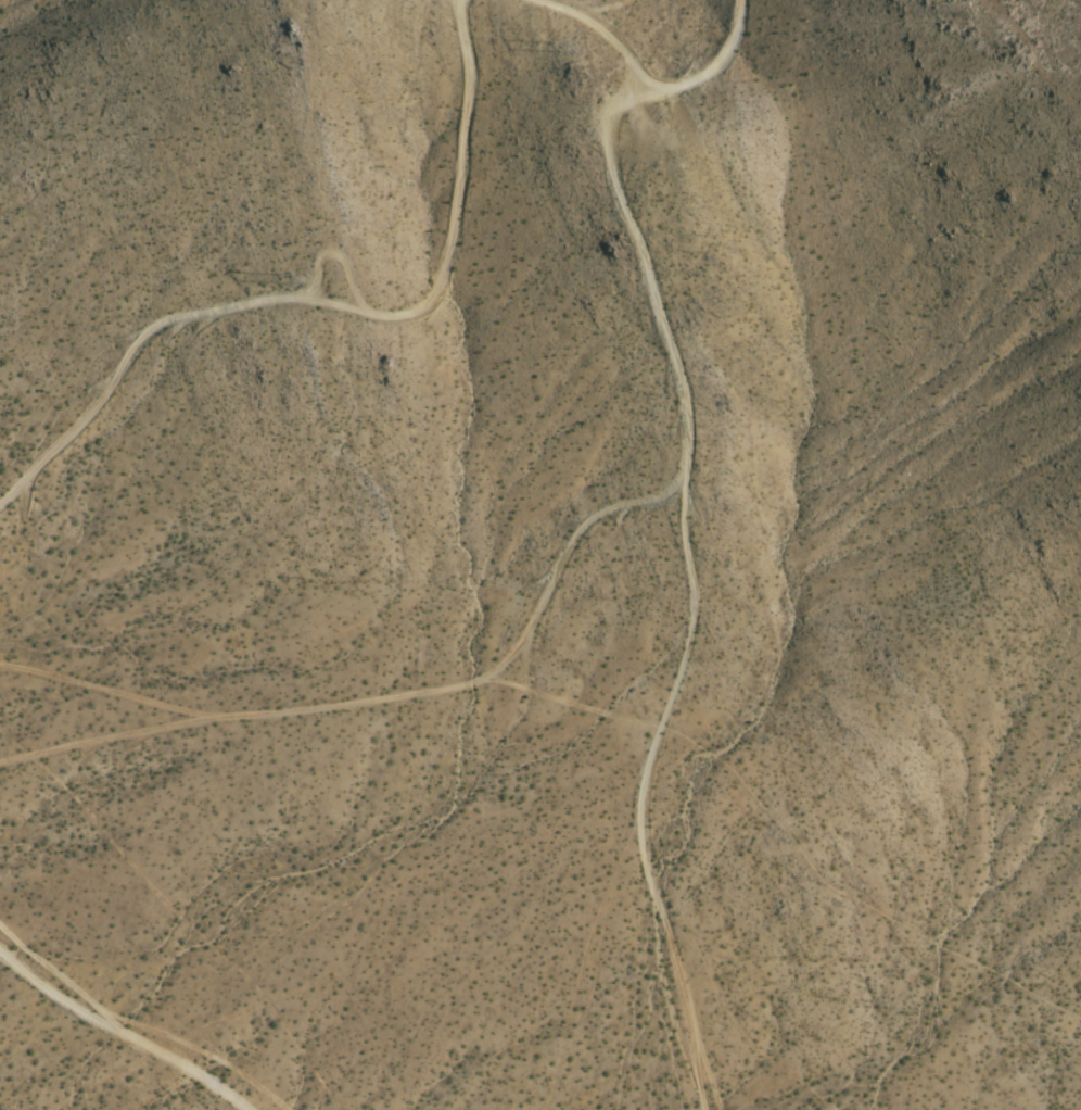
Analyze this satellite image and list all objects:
road: (612, 31)
road: (721, 71)
power tower: (583, 72)
power tower: (296, 280)
road: (701, 595)
road: (120, 1035)

